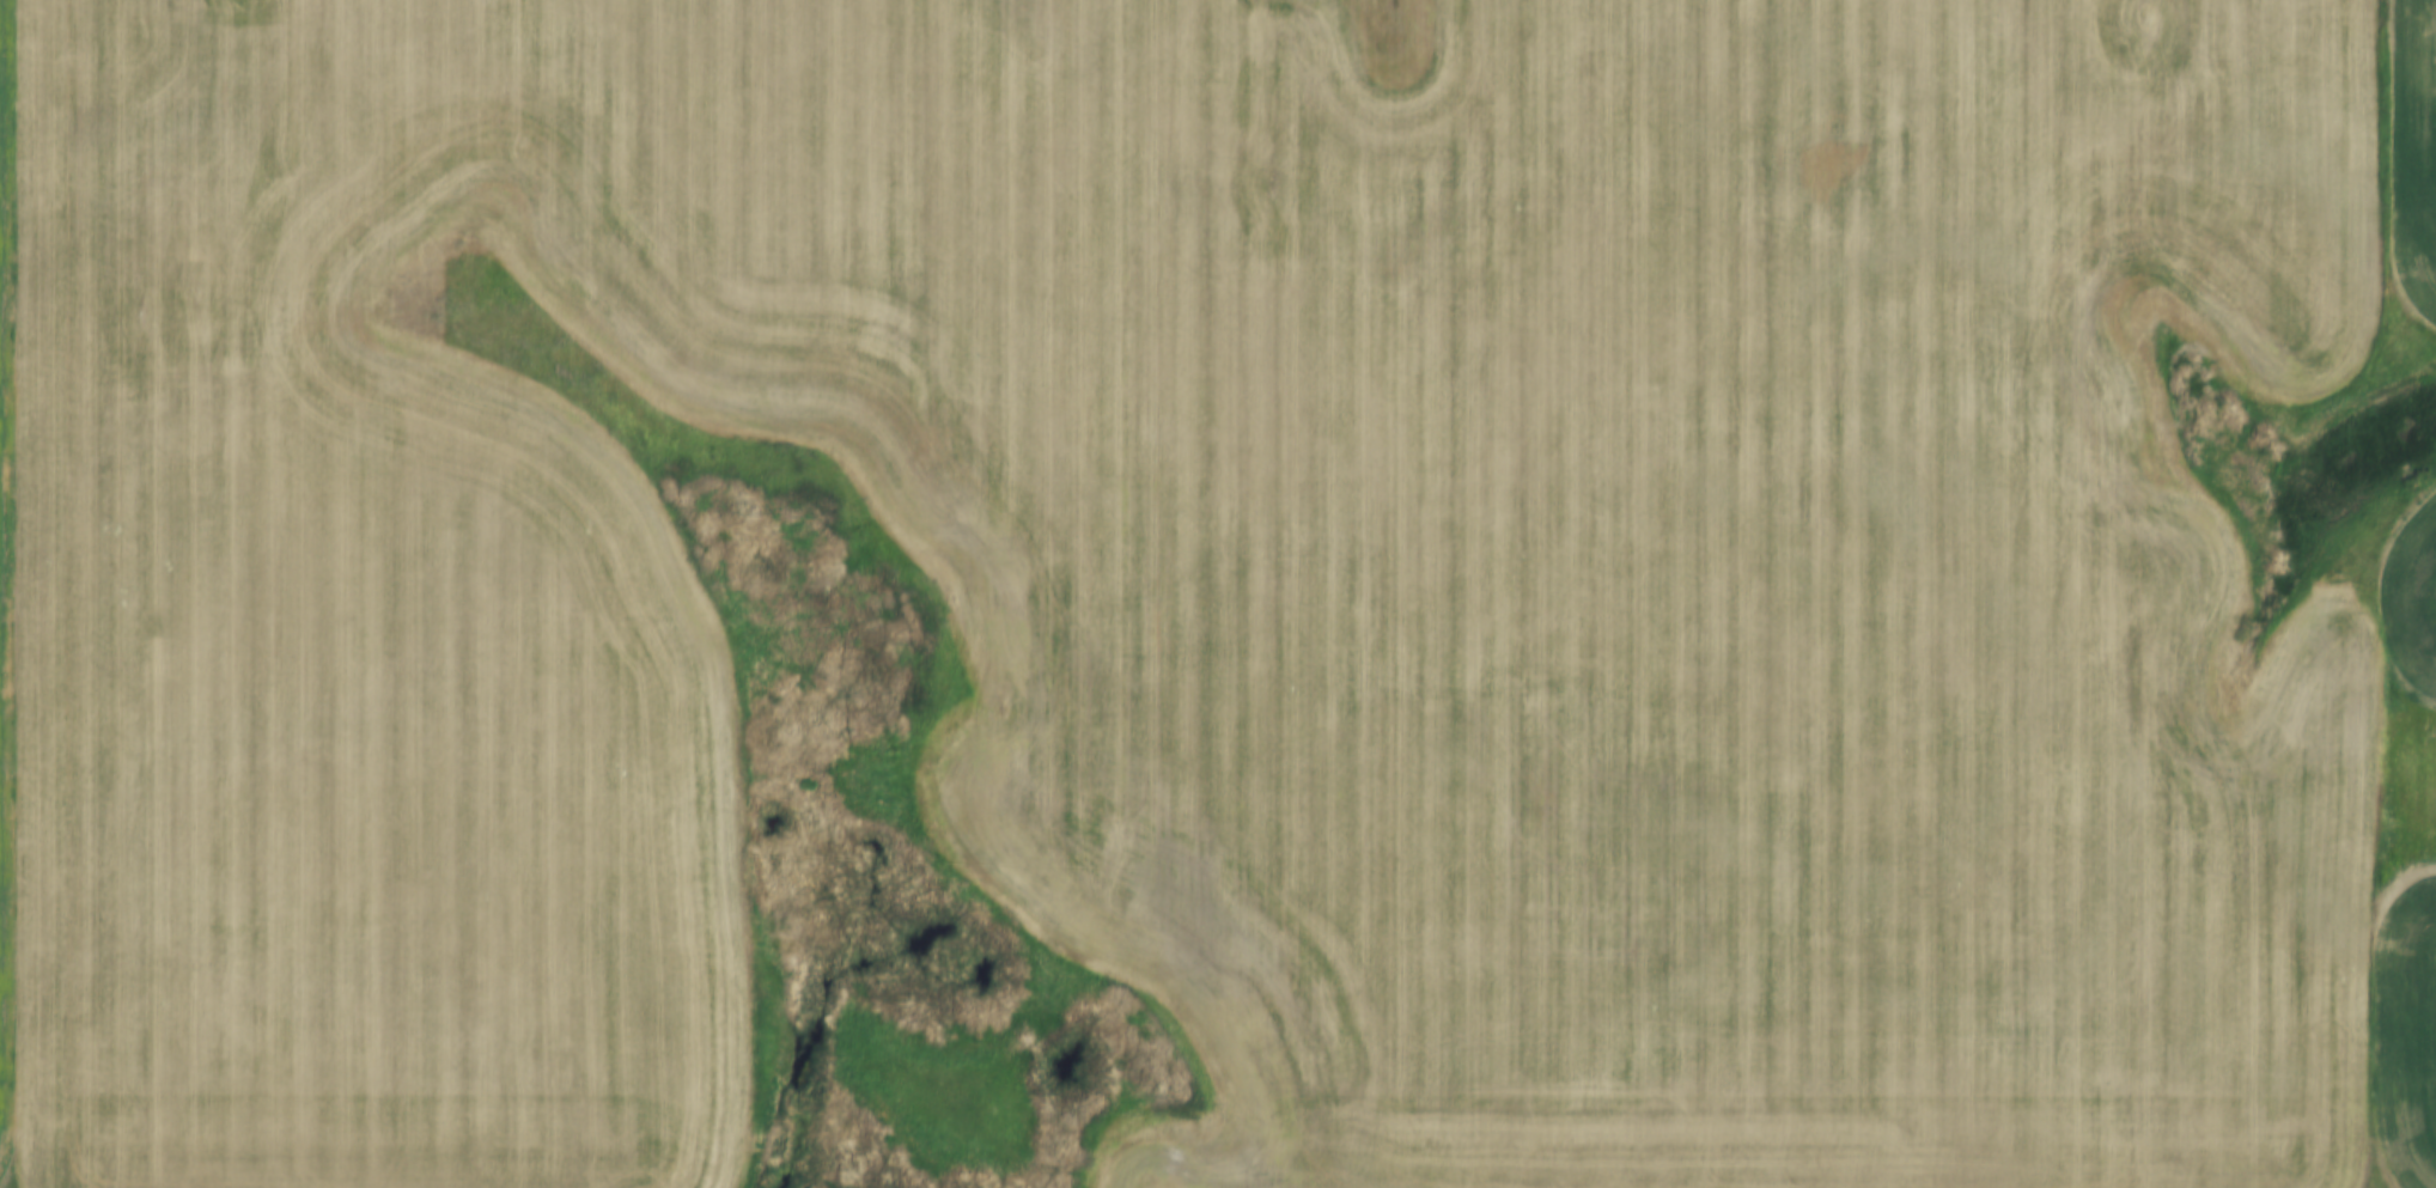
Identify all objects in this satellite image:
road: (2393, 157)

